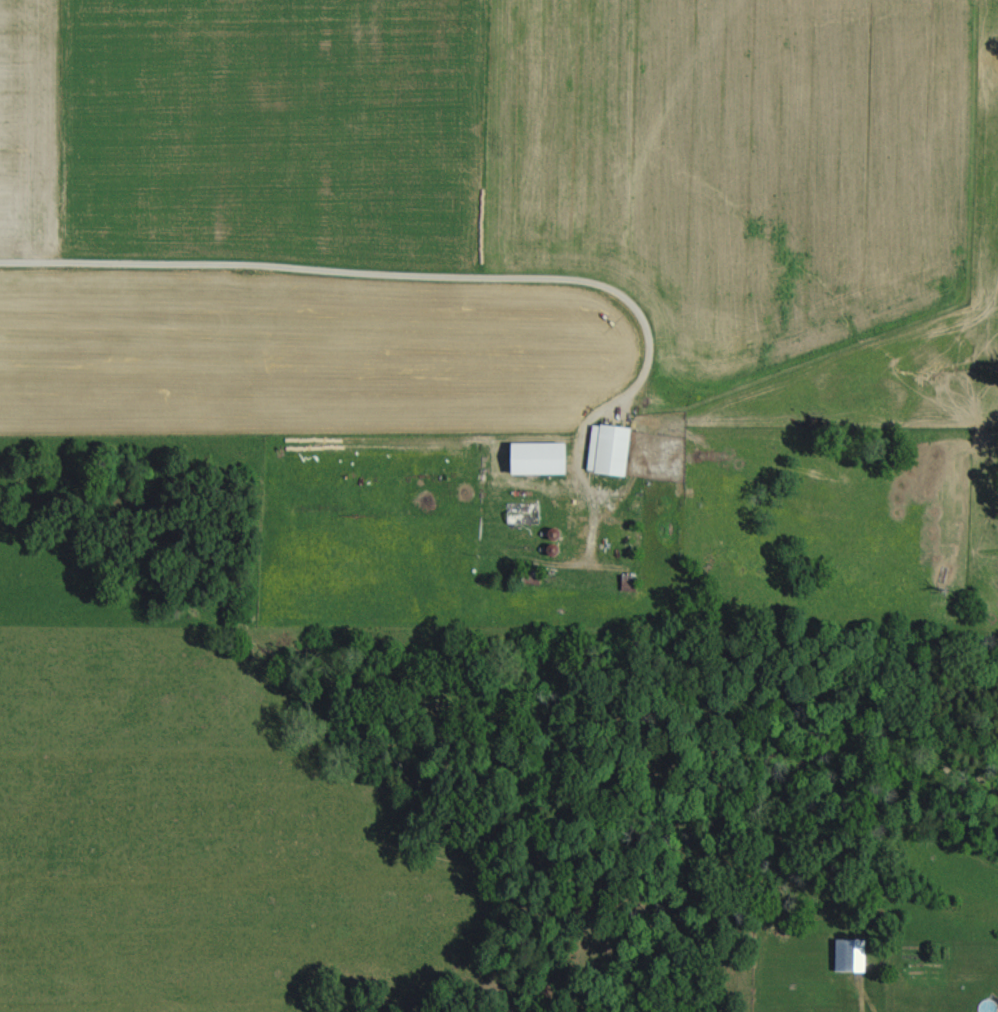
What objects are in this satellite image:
road: (386, 274)
building: (610, 450)
building: (541, 458)
building: (851, 956)
road: (868, 1000)

